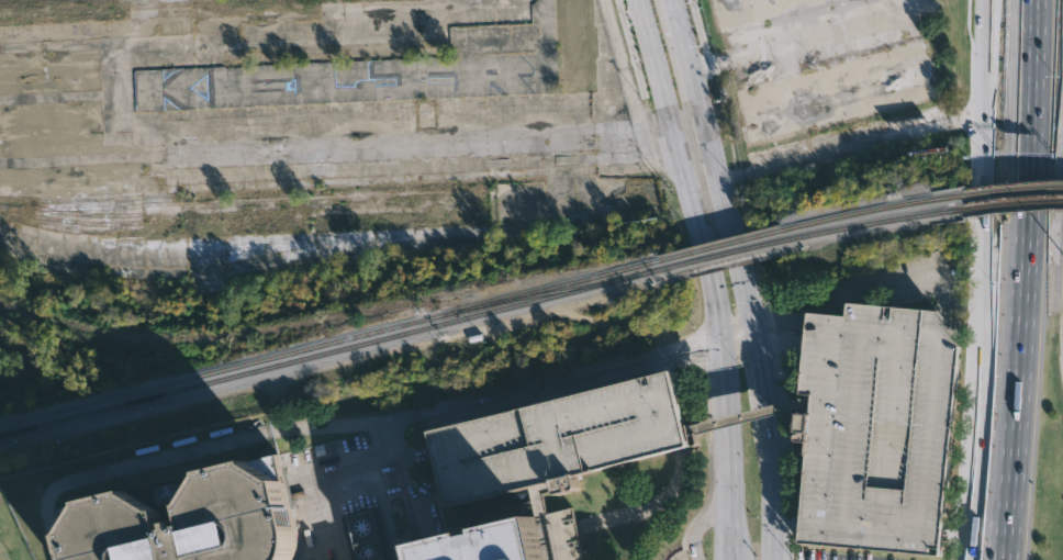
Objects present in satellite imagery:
railway: (161, 7)
road: (671, 16)
road: (703, 36)
road: (697, 37)
road: (629, 56)
road: (634, 56)
road: (685, 65)
building: (345, 81)
road: (984, 132)
road: (678, 167)
railway: (1012, 191)
railway: (1012, 204)
railway: (870, 210)
road: (726, 214)
railway: (871, 223)
railway: (718, 245)
railway: (720, 254)
road: (1020, 280)
railway: (540, 293)
road: (776, 331)
road: (735, 335)
traffic signals: (753, 335)
traffic signals: (717, 336)
railway: (329, 341)
railway: (331, 350)
road: (549, 392)
road: (969, 412)
road: (981, 412)
road: (748, 417)
road: (351, 424)
building: (873, 427)
parking lot: (873, 427)
building: (556, 440)
parking lot: (556, 440)
parking lot: (549, 446)
road: (771, 446)
road: (729, 447)
road: (409, 469)
road: (317, 474)
building: (197, 519)
building: (368, 537)
building: (507, 542)

